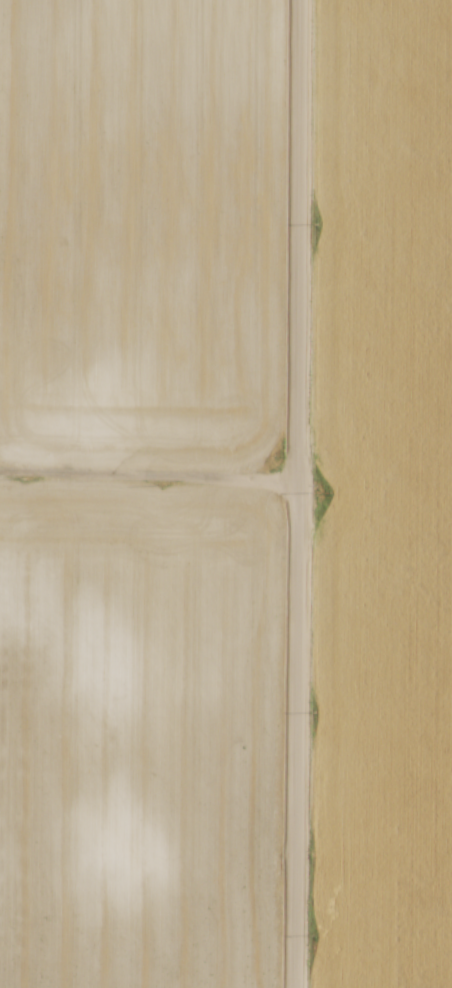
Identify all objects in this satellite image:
road: (151, 475)
road: (302, 493)

